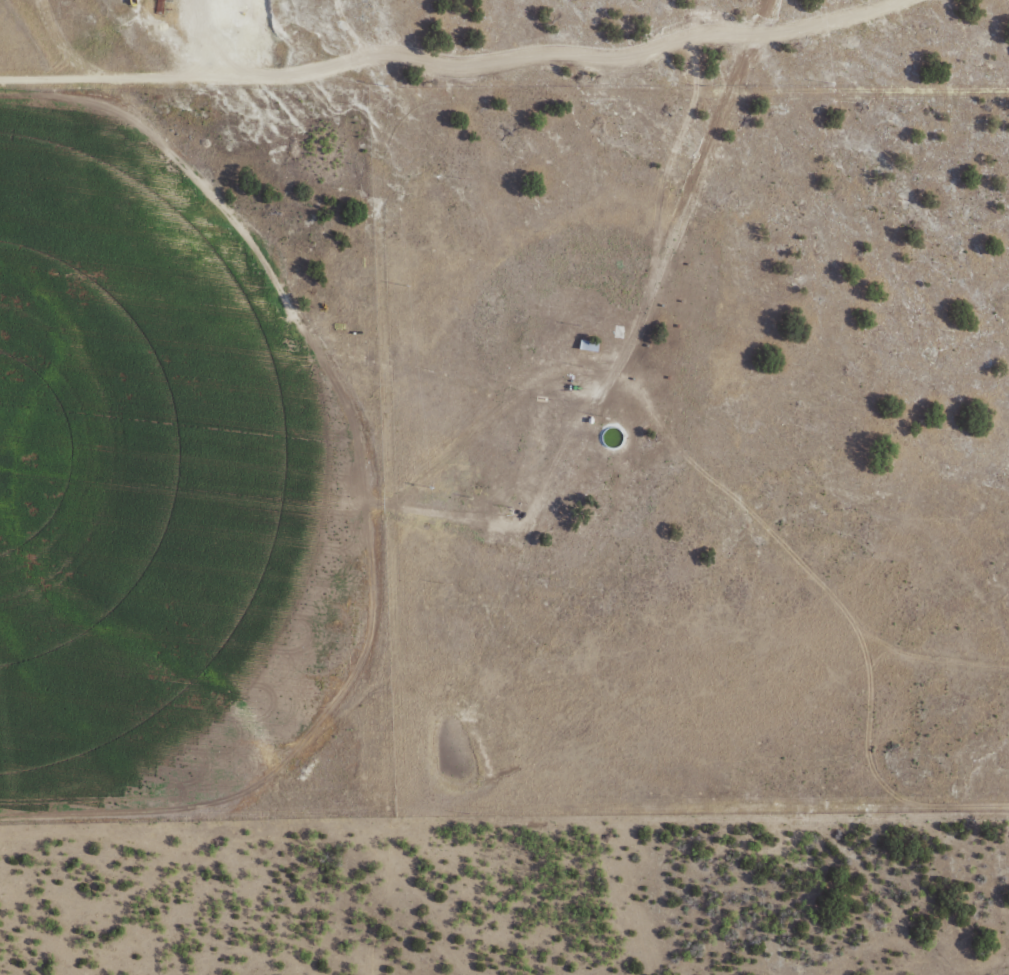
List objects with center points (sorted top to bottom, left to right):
building: (622, 332)
road: (249, 335)
building: (587, 346)

